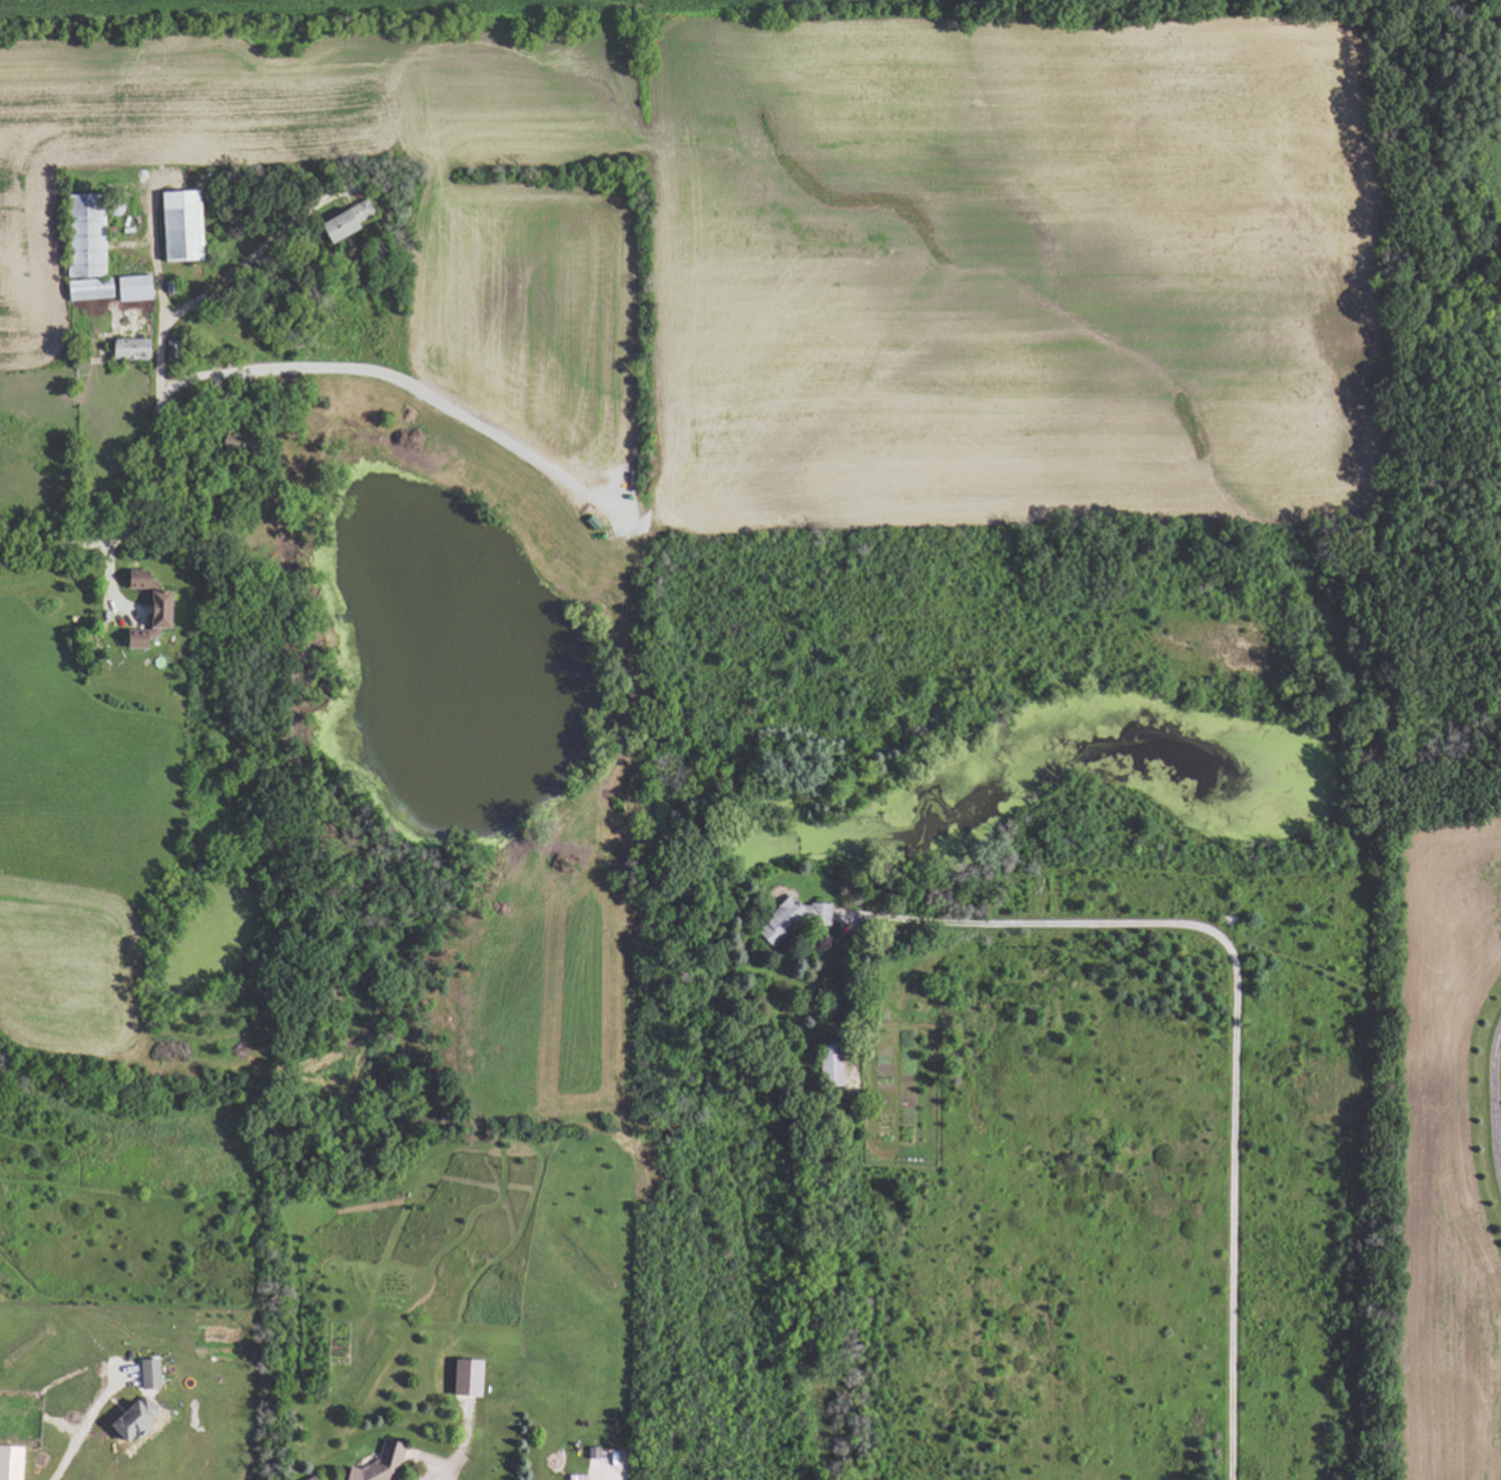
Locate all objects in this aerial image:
crop: (1408, 0)
building: (339, 219)
building: (175, 225)
building: (79, 237)
crop: (791, 240)
road: (262, 246)
building: (130, 288)
building: (84, 289)
building: (125, 349)
road: (160, 422)
building: (134, 578)
building: (144, 622)
building: (788, 918)
road: (1231, 1033)
road: (1491, 1099)
building: (147, 1374)
building: (461, 1378)
building: (126, 1420)
road: (72, 1439)
building: (9, 1463)
building: (374, 1466)
building: (309, 1478)

